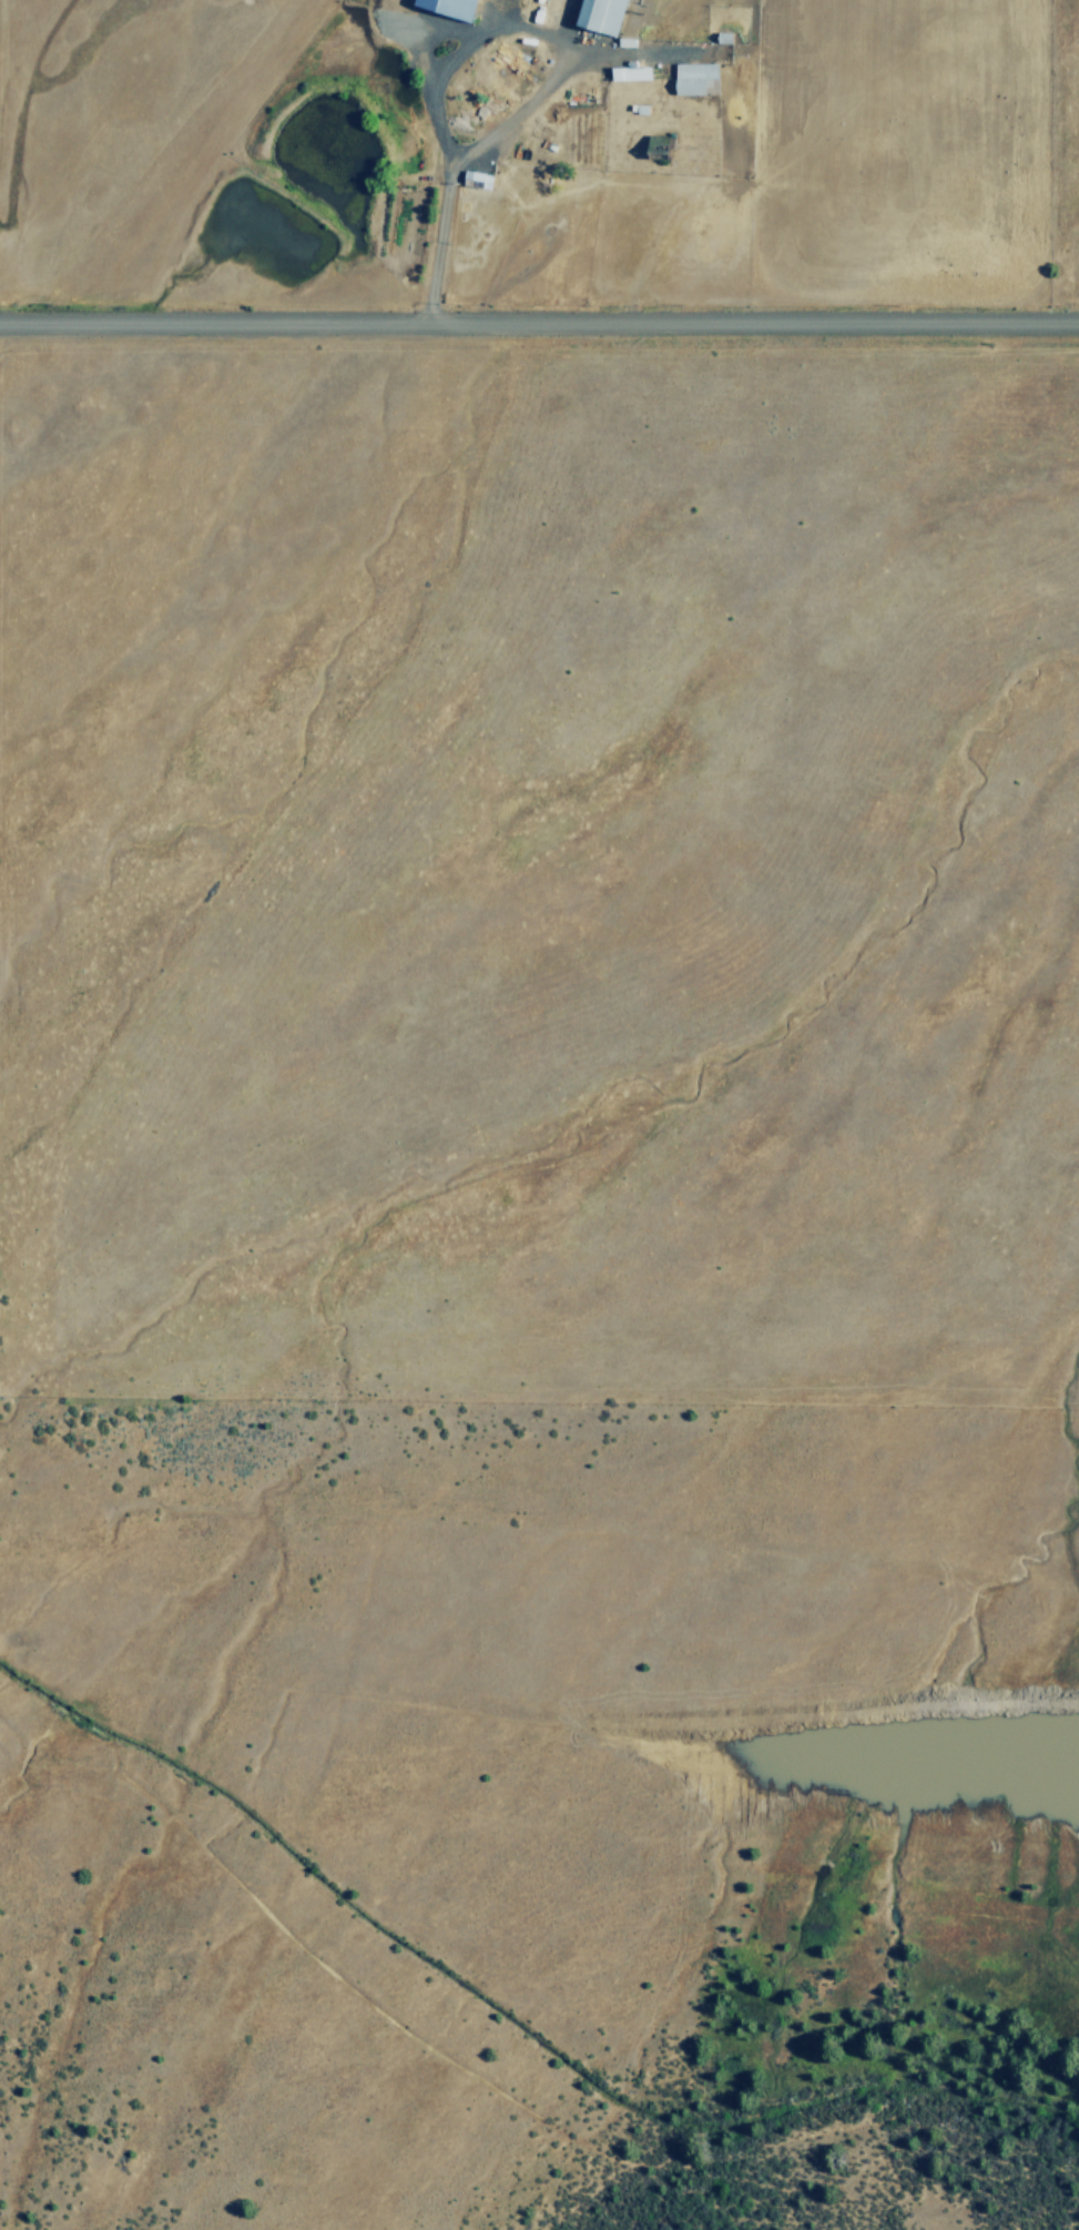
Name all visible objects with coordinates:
building: (449, 7)
building: (600, 13)
building: (630, 72)
building: (694, 75)
building: (659, 144)
building: (477, 179)
road: (539, 320)

